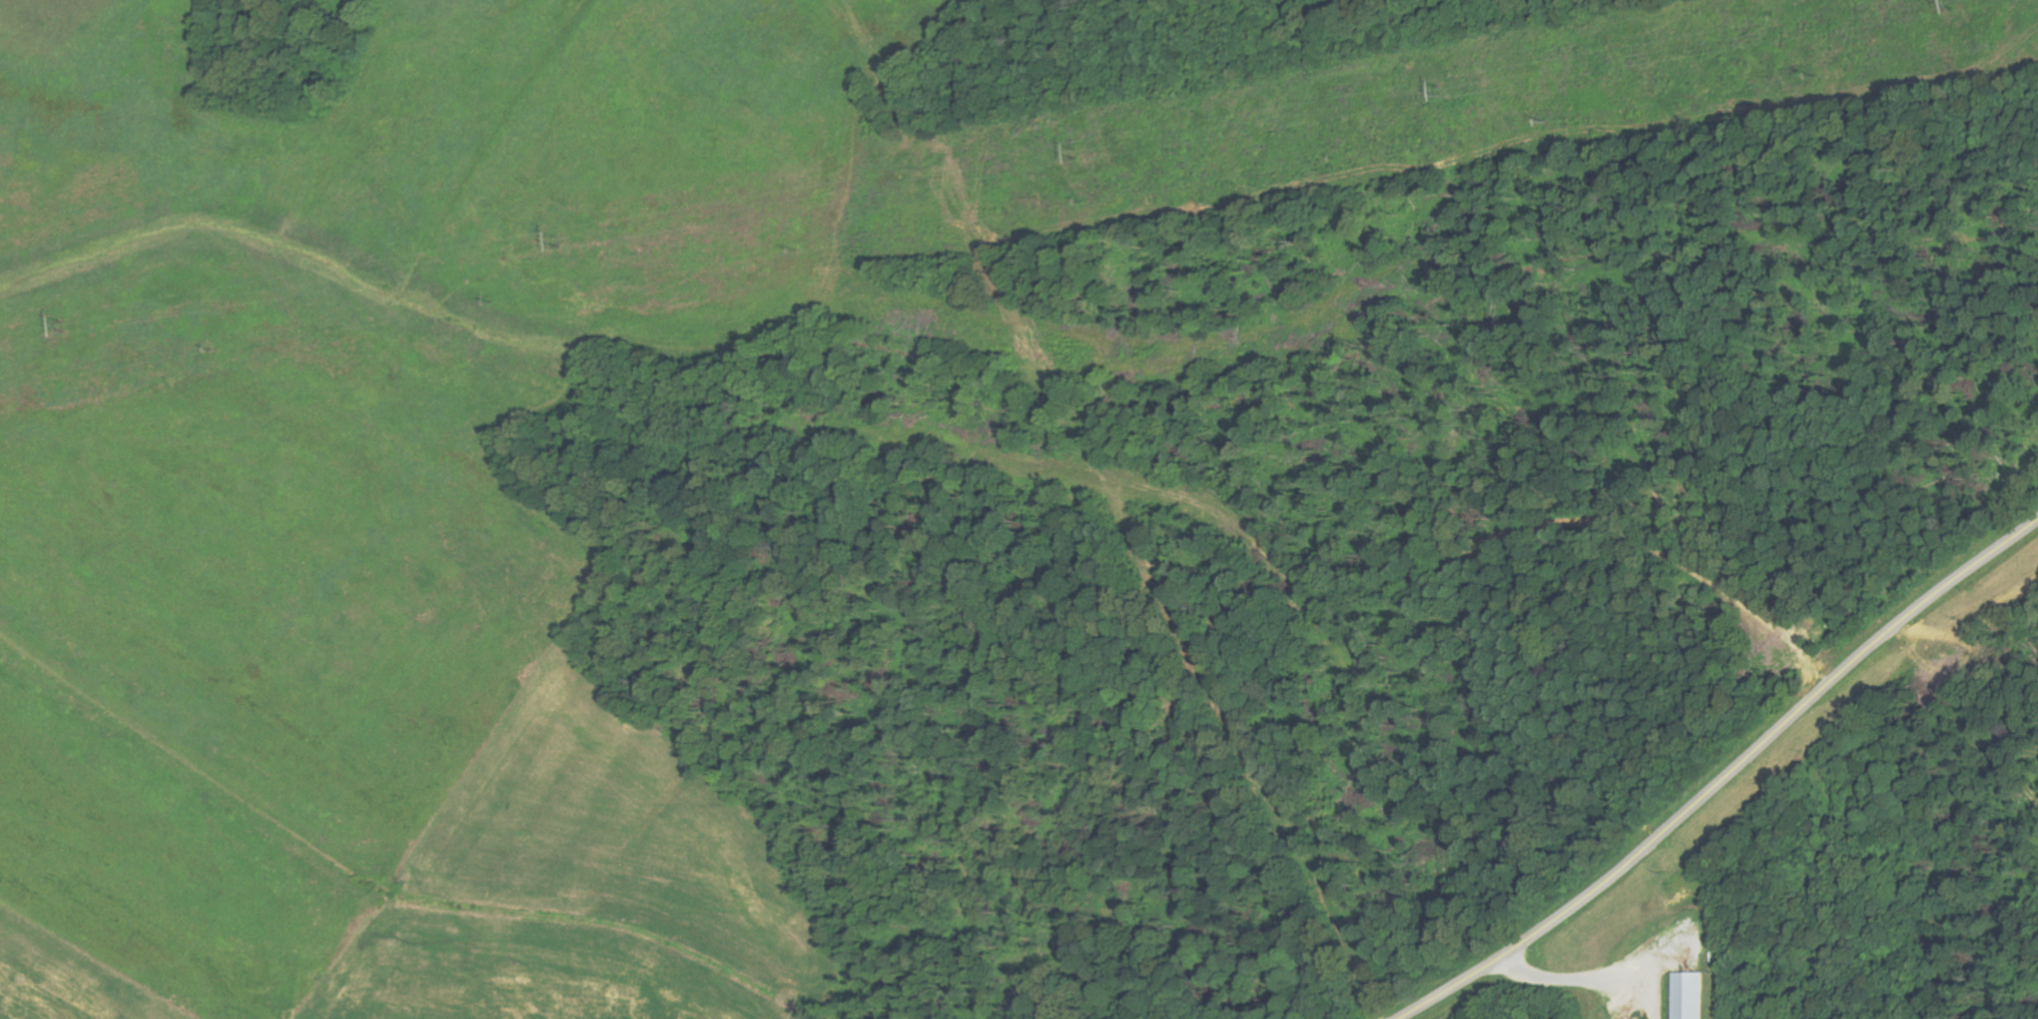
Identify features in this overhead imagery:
power tower: (1440, 85)
power tower: (1075, 146)
power tower: (561, 238)
power tower: (63, 323)
road: (1727, 779)
building: (1690, 995)

